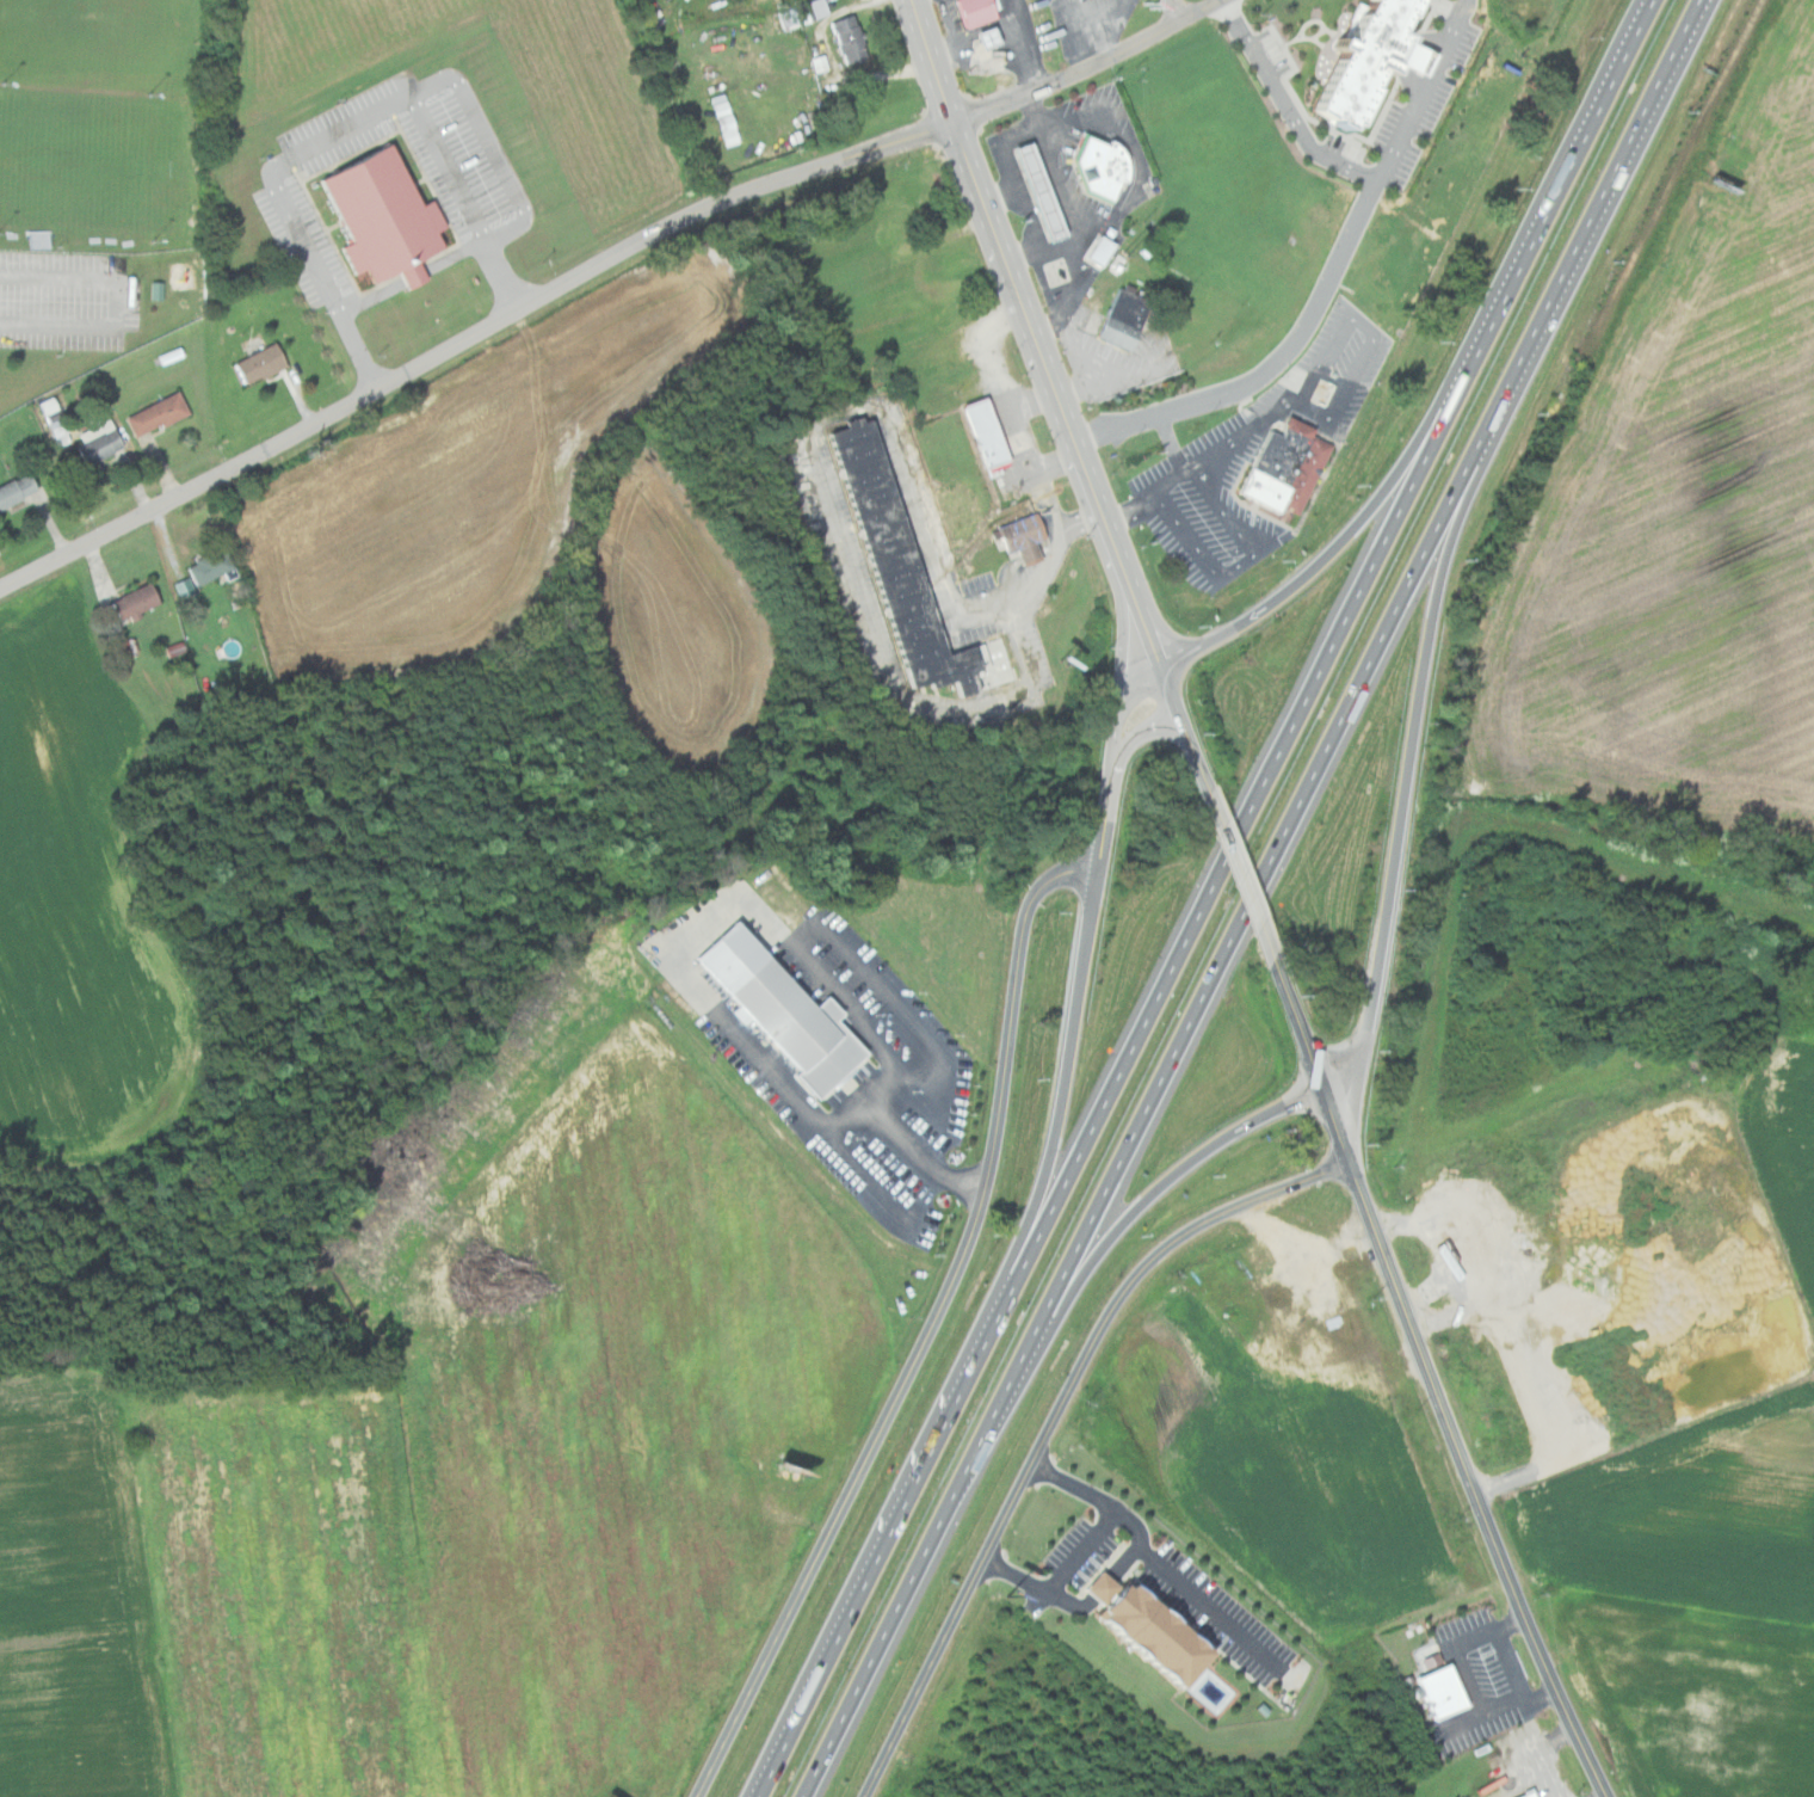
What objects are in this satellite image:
road: (1090, 2)
road: (1178, 11)
building: (971, 12)
road: (1087, 17)
park: (104, 38)
building: (844, 38)
building: (980, 38)
building: (1343, 61)
road: (1283, 105)
building: (721, 119)
road: (343, 128)
road: (492, 146)
park: (93, 156)
building: (1103, 166)
park: (107, 181)
road: (1554, 185)
building: (1044, 190)
building: (1032, 192)
road: (1596, 214)
building: (388, 217)
building: (37, 239)
building: (1102, 248)
road: (598, 264)
road: (415, 276)
road: (1326, 282)
road: (1016, 288)
parking lot: (72, 296)
road: (112, 304)
building: (1127, 318)
building: (261, 363)
building: (158, 413)
building: (988, 432)
building: (101, 443)
building: (1285, 468)
building: (17, 490)
building: (1025, 536)
road: (1335, 544)
park: (7, 552)
building: (212, 567)
building: (908, 573)
building: (135, 603)
road: (1156, 621)
road: (1119, 642)
road: (1167, 685)
road: (1117, 704)
road: (1140, 731)
road: (1407, 762)
road: (1105, 813)
road: (1244, 878)
road: (683, 978)
building: (773, 1007)
road: (1298, 1024)
road: (1112, 1085)
road: (1142, 1110)
road: (1337, 1126)
road: (1044, 1169)
road: (1134, 1208)
road: (937, 1329)
road: (1418, 1331)
road: (1059, 1429)
road: (1085, 1540)
road: (1176, 1581)
building: (1142, 1633)
road: (1545, 1648)
building: (1436, 1691)
building: (1529, 1793)

